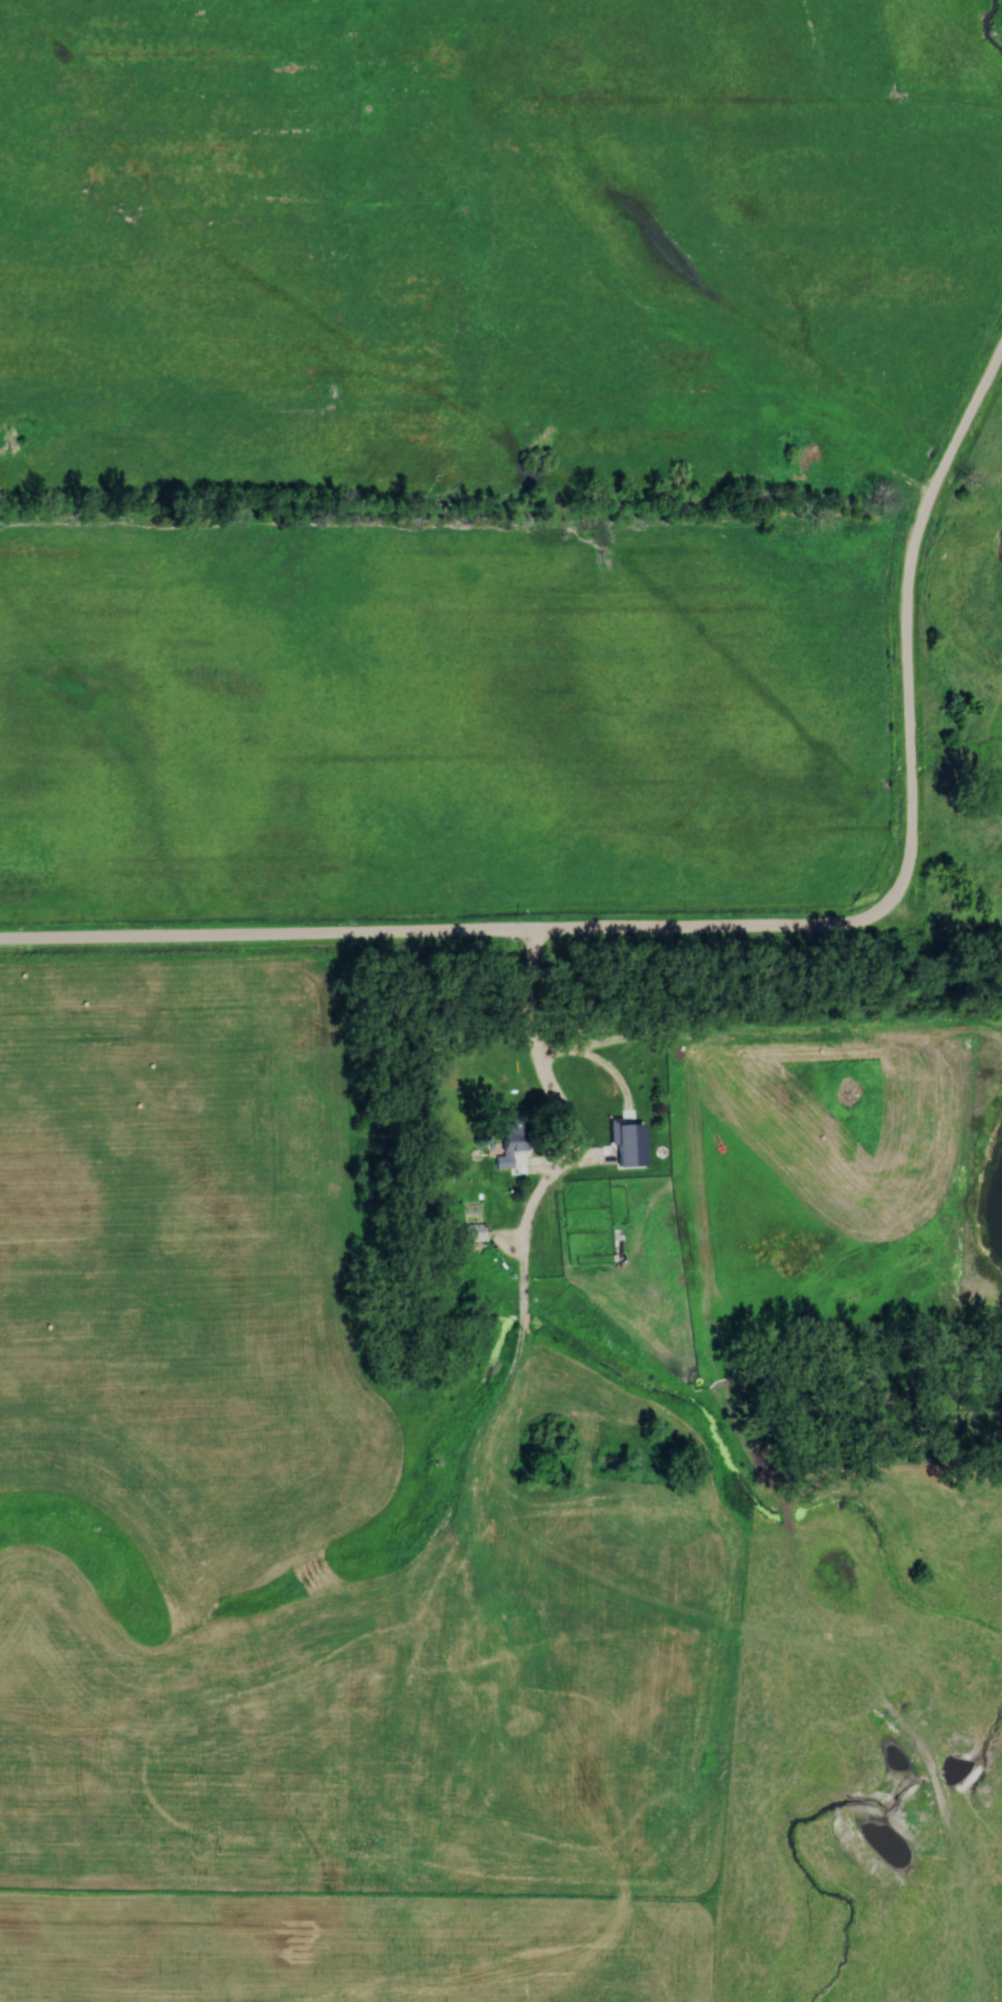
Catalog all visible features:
river: (988, 25)
road: (910, 622)
road: (446, 935)
road: (567, 1112)
building: (501, 1145)
building: (470, 1234)

